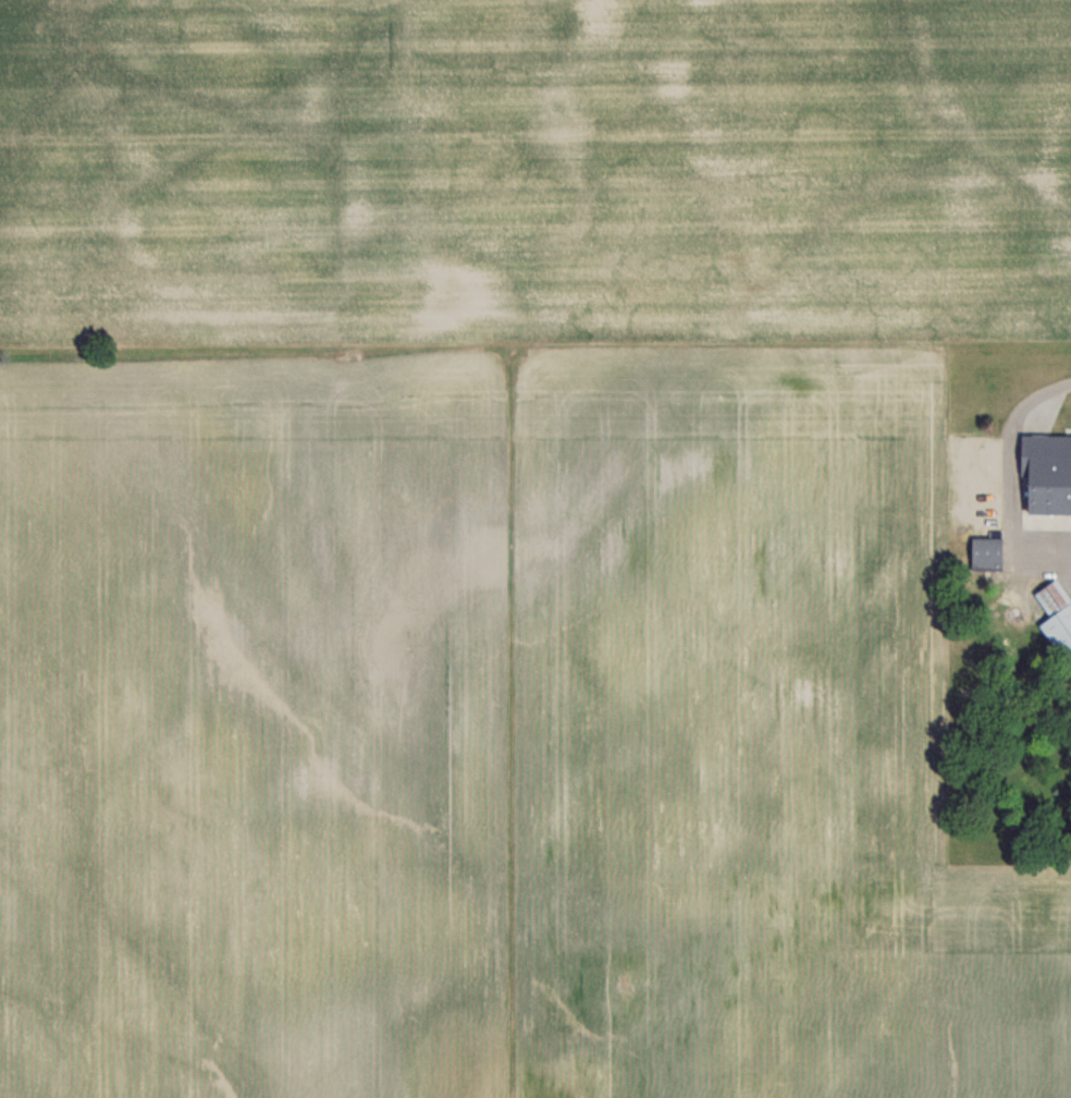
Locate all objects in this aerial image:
building: (1045, 474)
building: (983, 553)
building: (1056, 615)

